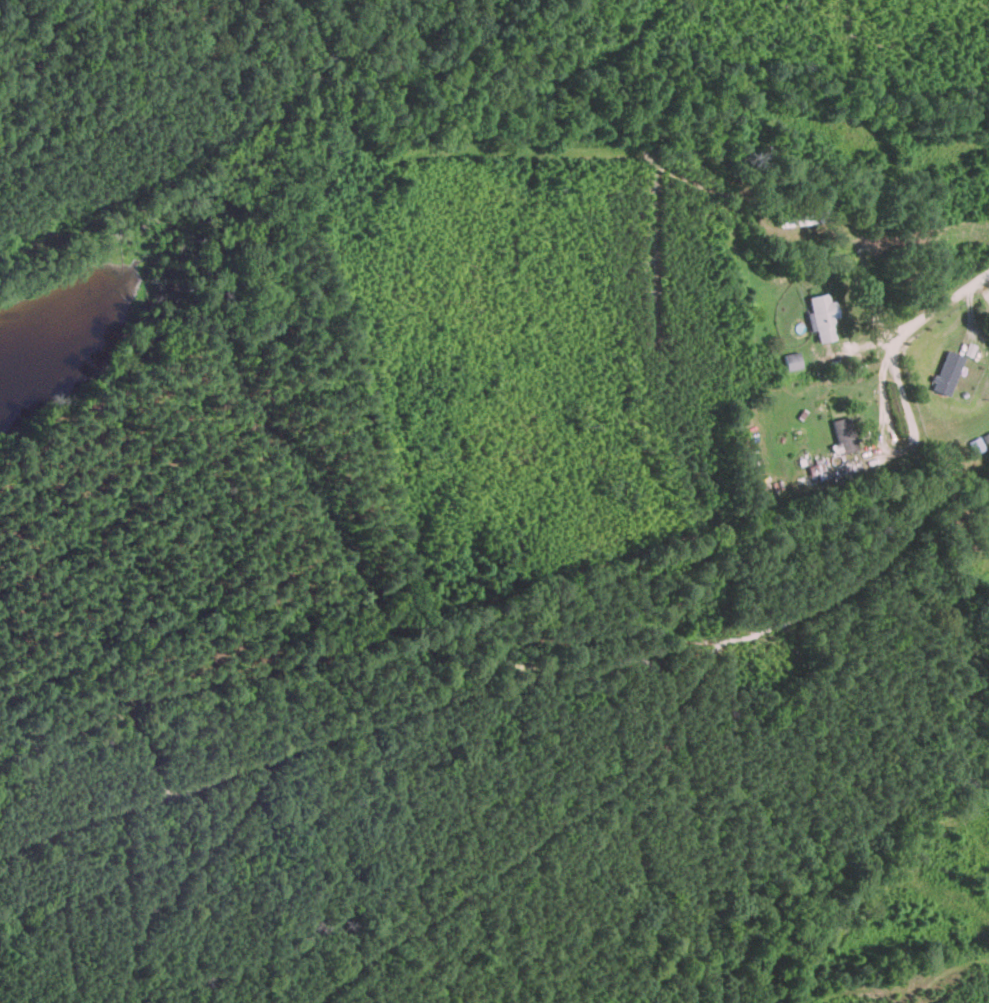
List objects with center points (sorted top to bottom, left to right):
building: (800, 214)
building: (822, 315)
road: (903, 323)
building: (792, 360)
building: (946, 372)
building: (843, 434)

